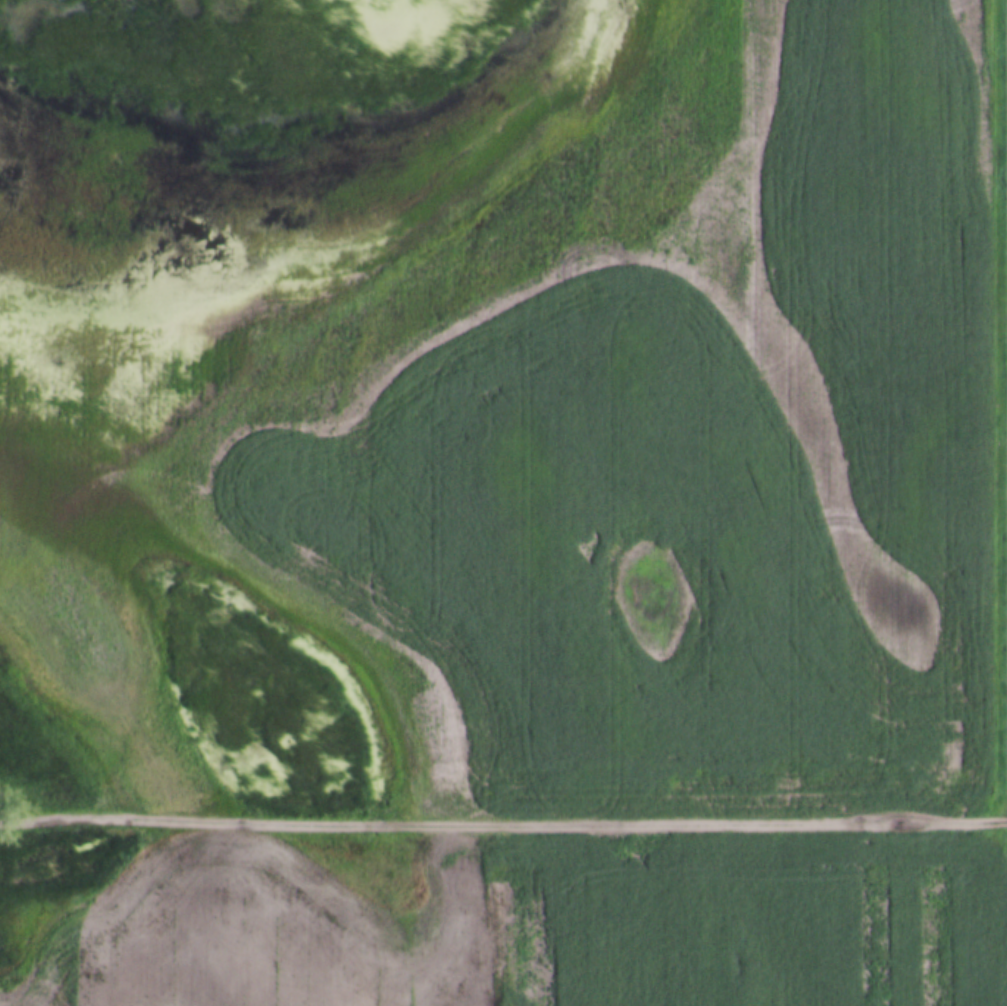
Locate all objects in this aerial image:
road: (503, 823)

